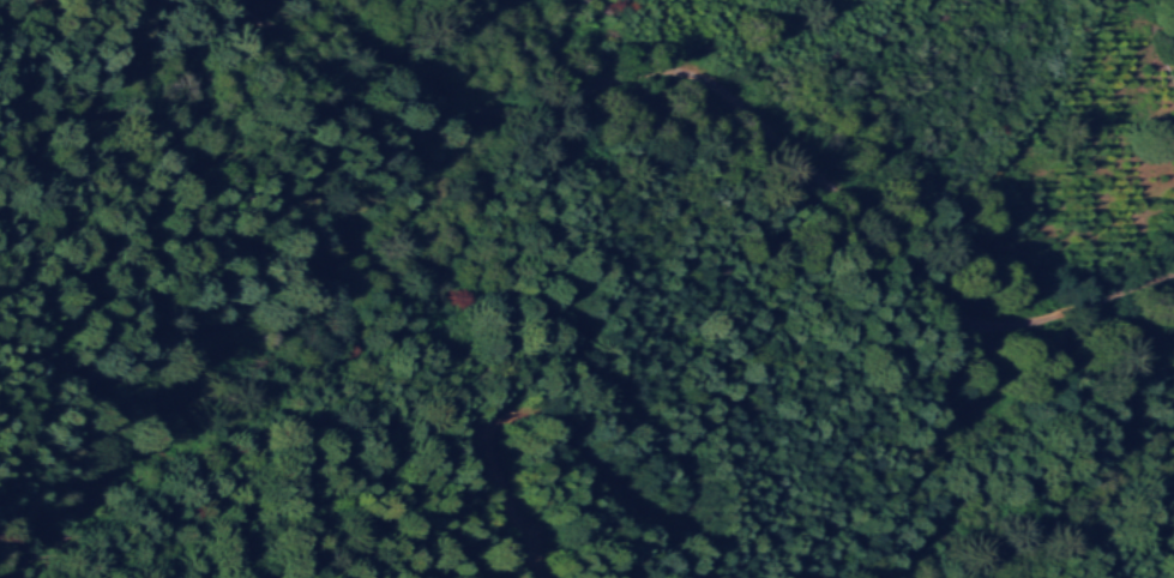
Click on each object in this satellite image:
road: (115, 25)
road: (769, 114)

